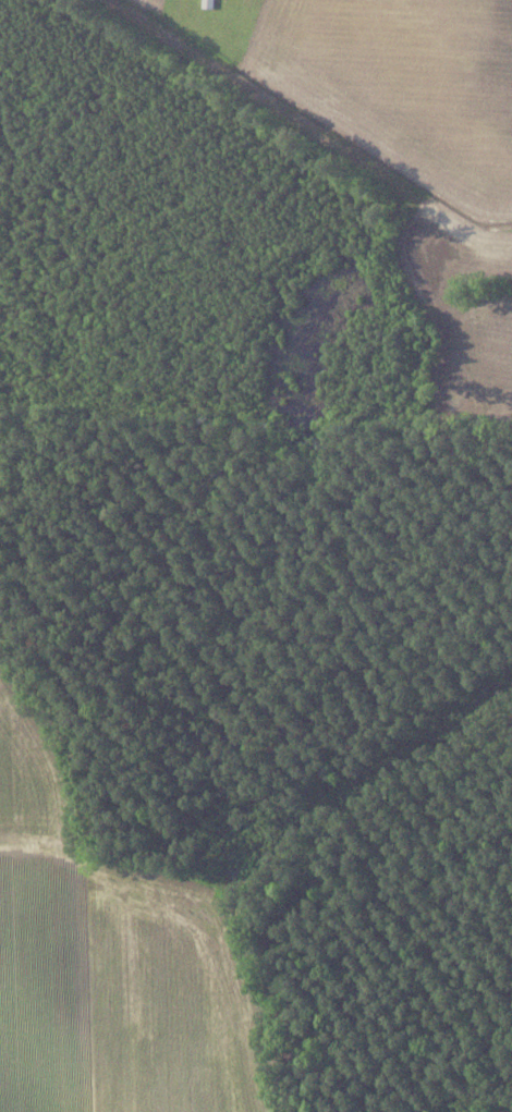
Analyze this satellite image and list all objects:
building: (208, 3)
crop: (156, 5)
crop: (403, 85)
crop: (464, 242)
crop: (474, 356)
crop: (112, 956)

